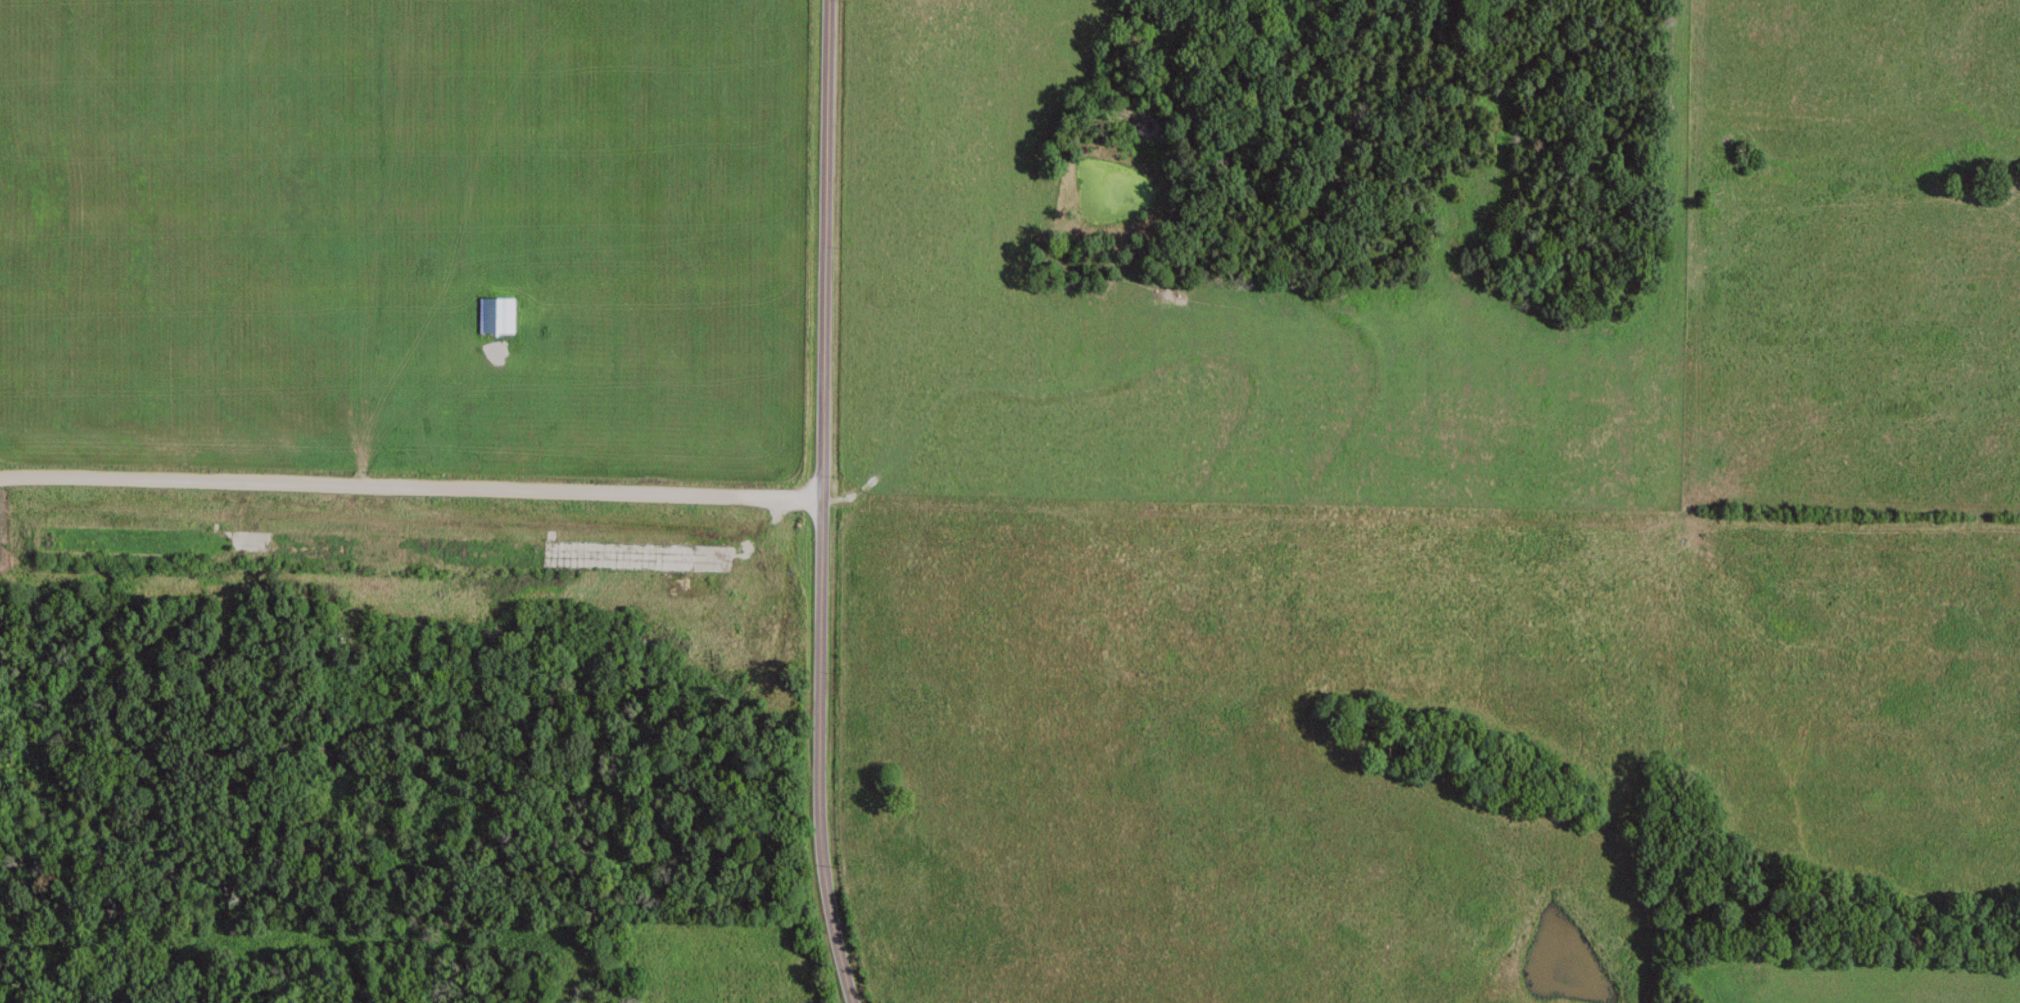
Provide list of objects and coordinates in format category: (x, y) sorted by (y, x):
building: (500, 314)
road: (409, 489)
road: (818, 503)
building: (369, 547)

